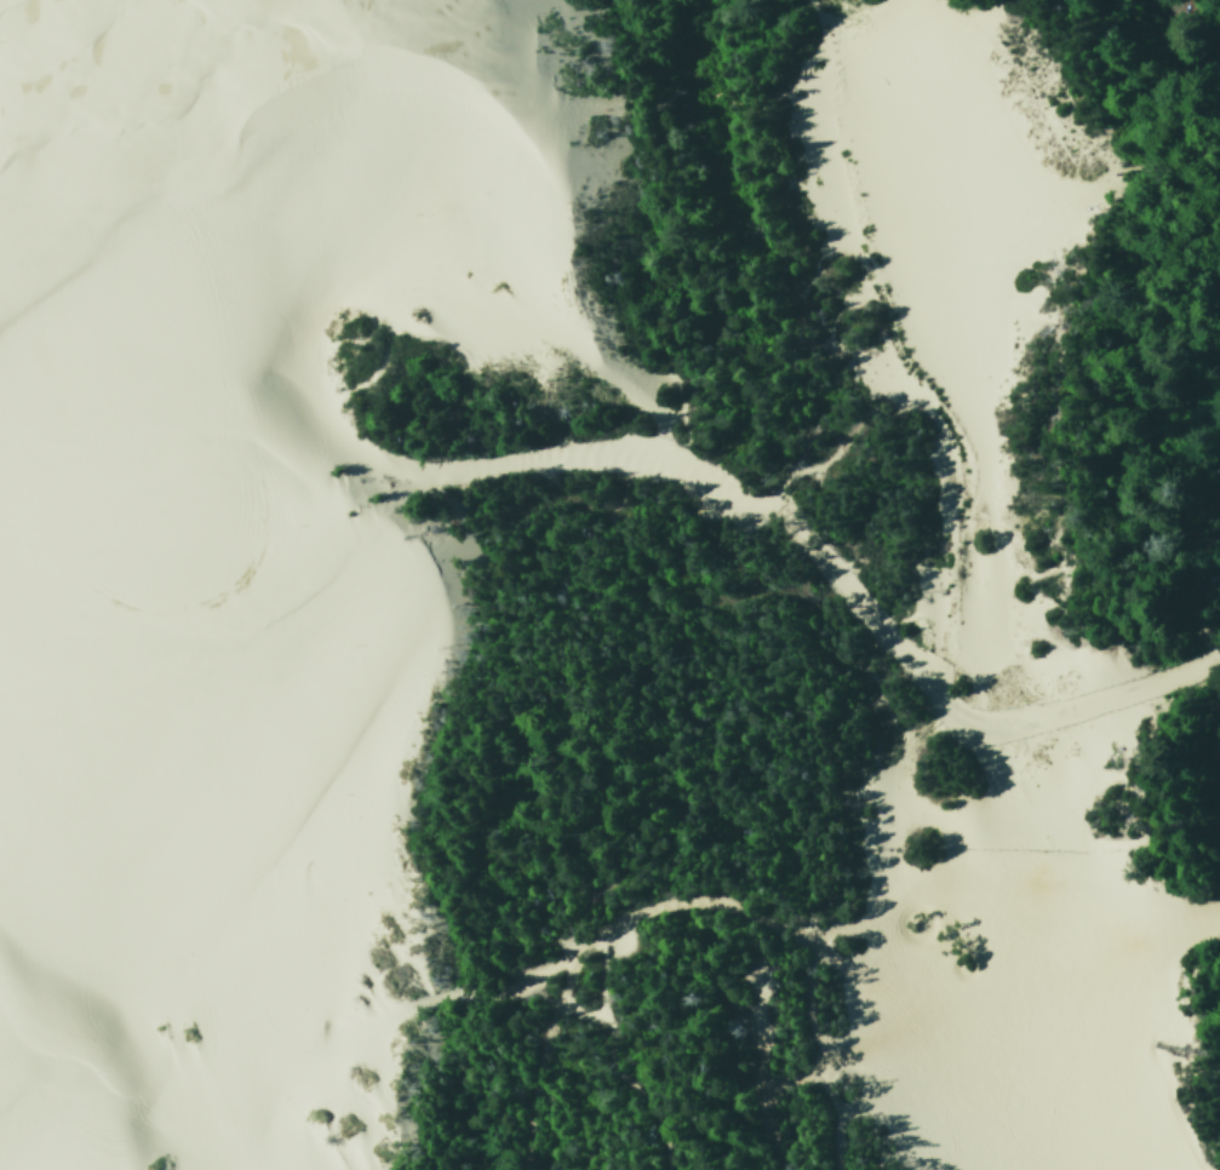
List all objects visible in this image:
road: (1208, 31)

